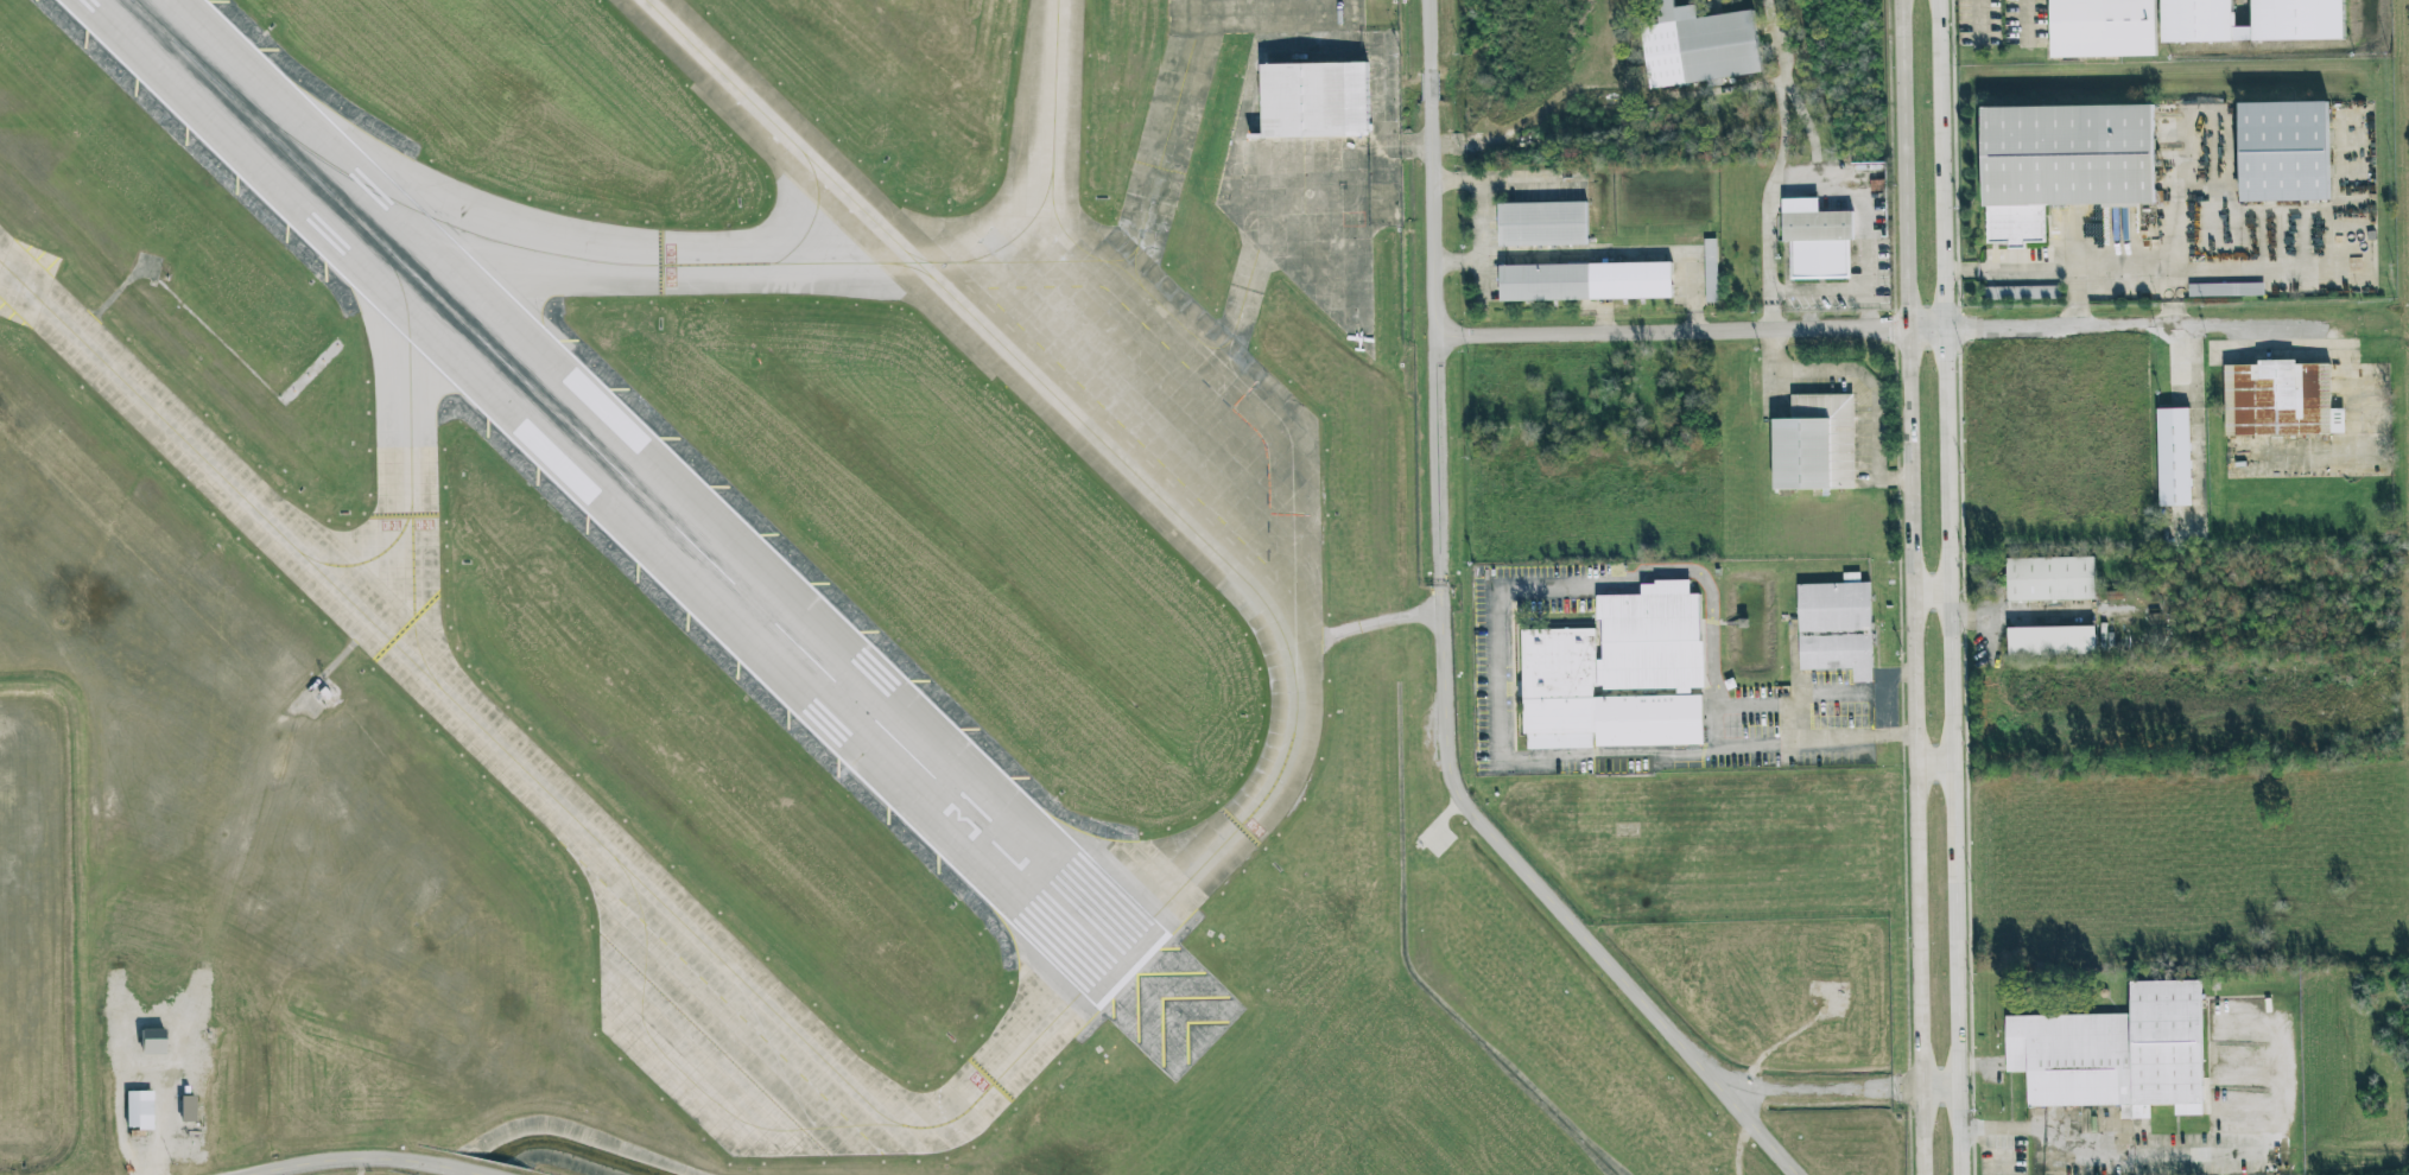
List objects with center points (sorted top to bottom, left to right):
road: (1982, 17)
road: (2026, 17)
building: (2252, 20)
building: (2104, 30)
building: (1706, 47)
road: (1598, 88)
building: (1312, 106)
road: (1809, 125)
airport apron: (1304, 150)
building: (2284, 151)
airport taxiway: (1052, 158)
airport taxiway: (1160, 159)
road: (1776, 165)
building: (2065, 167)
road: (1507, 180)
road: (1868, 212)
airport taxiway: (814, 216)
road: (2174, 222)
building: (1541, 223)
airport taxiway: (1021, 230)
road: (1477, 243)
building: (1820, 244)
road: (1596, 254)
airport taxiway: (918, 255)
airport taxiway: (984, 260)
airport taxiway: (673, 263)
road: (1454, 263)
airport taxiway: (908, 266)
building: (1711, 271)
road: (2043, 272)
building: (1545, 282)
building: (2226, 290)
road: (1432, 292)
building: (2022, 292)
road: (2143, 330)
airport taxiway: (1190, 331)
road: (1693, 335)
road: (1862, 394)
airport apron: (1187, 401)
building: (2278, 404)
road: (2196, 423)
airport taxiway: (1090, 428)
building: (1817, 447)
building: (2173, 463)
airport runway: (633, 485)
airport taxiway: (1292, 513)
airport taxiway: (412, 517)
airport taxiway: (372, 558)
building: (2055, 584)
road: (1914, 586)
road: (1957, 587)
road: (1936, 593)
airport: (788, 616)
road: (1712, 620)
road: (1365, 623)
building: (1837, 631)
building: (1650, 637)
parking lot: (1494, 646)
building: (2050, 646)
building: (1559, 662)
road: (1443, 681)
road: (1887, 691)
road: (1840, 694)
road: (1501, 701)
road: (1748, 744)
building: (1623, 766)
airport taxiway: (570, 814)
road: (1637, 997)
building: (152, 1040)
road: (164, 1041)
building: (2117, 1057)
road: (1983, 1066)
airport taxiway: (685, 1073)
road: (1904, 1090)
road: (1945, 1090)
building: (188, 1107)
building: (139, 1109)
road: (1758, 1133)
road: (2128, 1141)
road: (1737, 1147)
road: (331, 1158)
road: (448, 1168)

